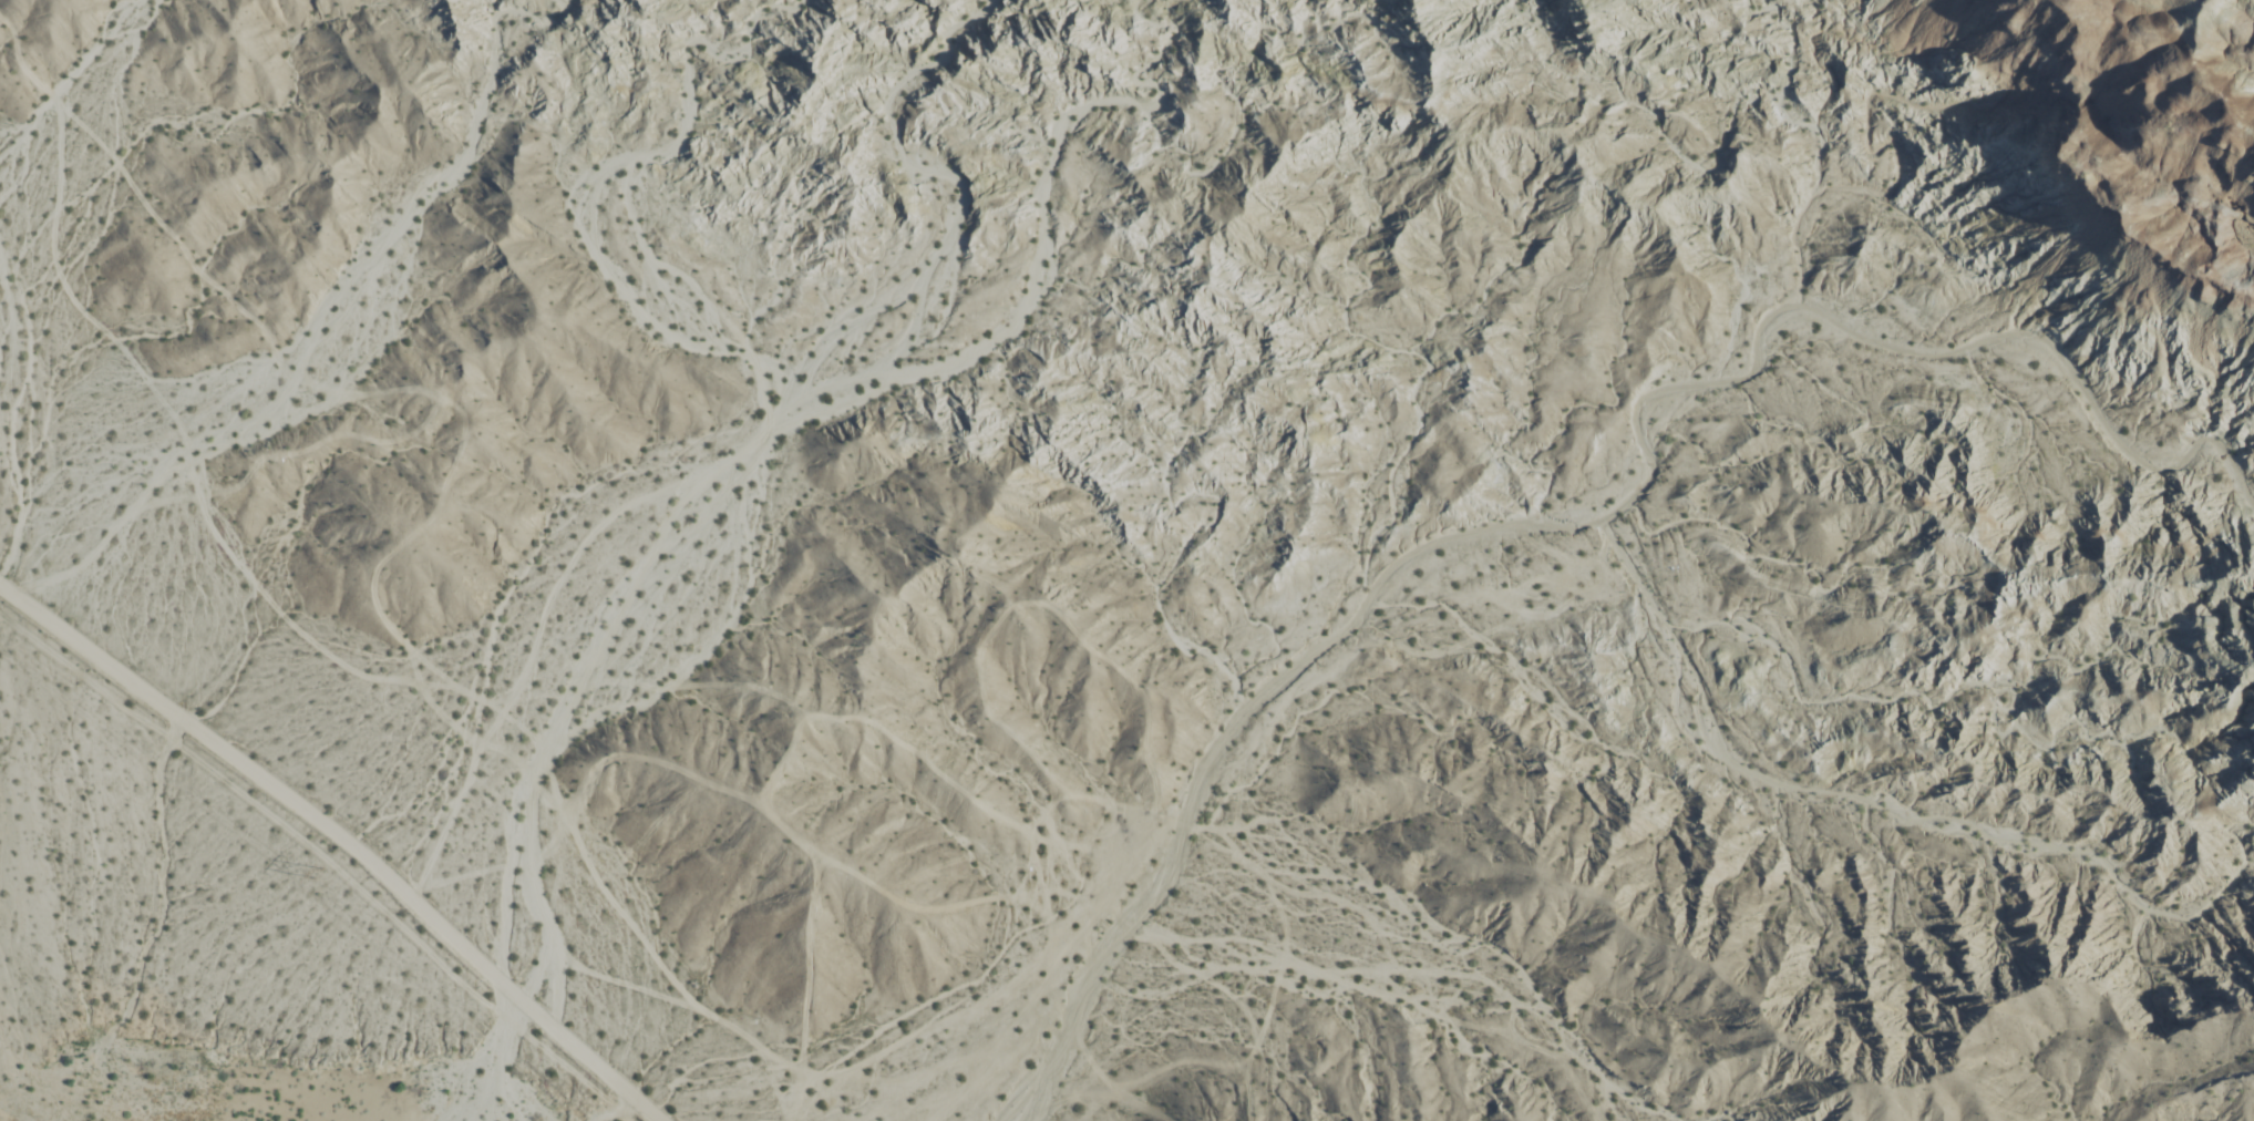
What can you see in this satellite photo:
road: (340, 840)
power tower: (312, 877)

